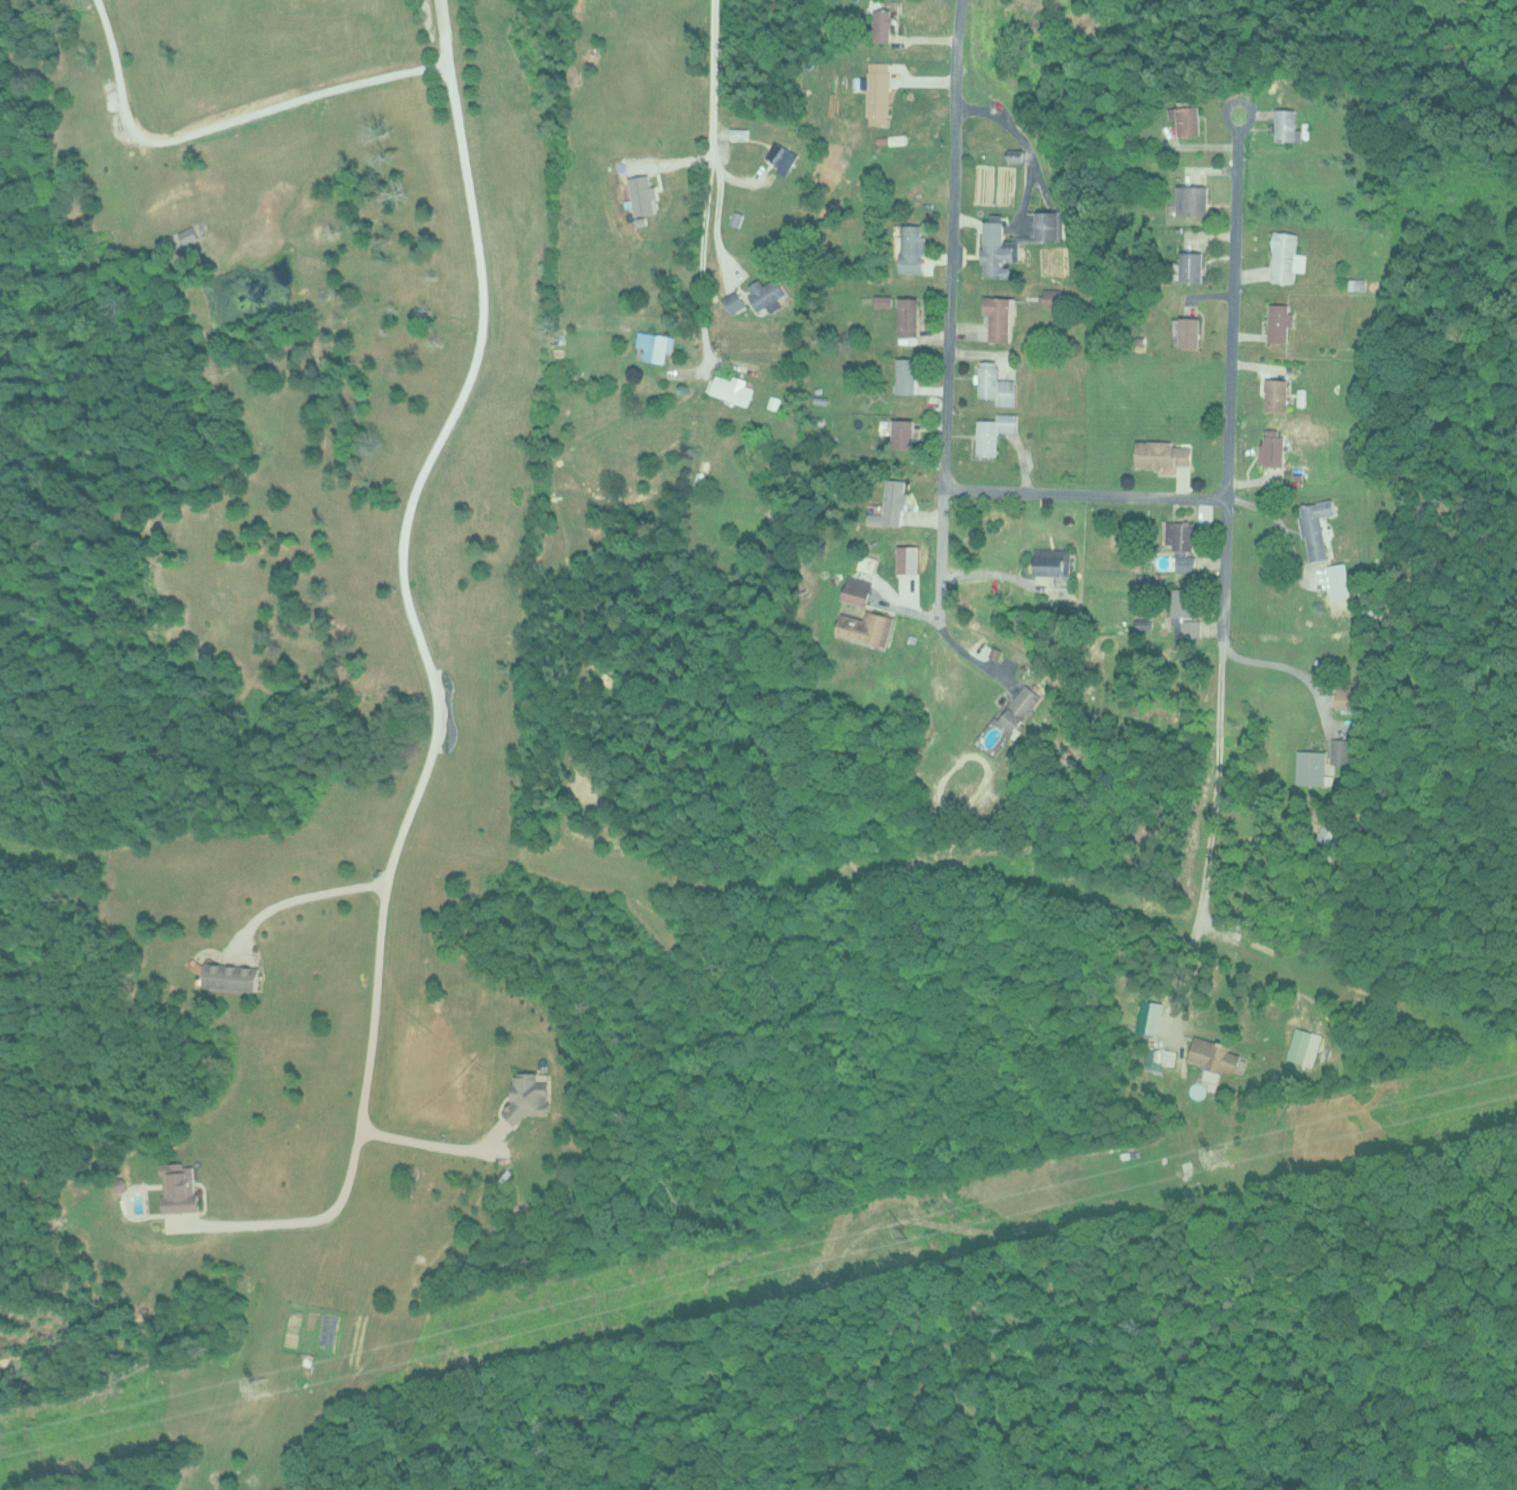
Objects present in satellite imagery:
building: (882, 24)
building: (878, 92)
building: (1186, 118)
building: (1286, 124)
building: (739, 133)
building: (782, 155)
road: (706, 180)
building: (1192, 199)
building: (1048, 225)
building: (911, 248)
building: (998, 248)
building: (1285, 257)
building: (1191, 266)
building: (767, 295)
building: (1052, 297)
building: (734, 302)
road: (948, 311)
building: (909, 317)
building: (1001, 317)
building: (1279, 323)
building: (1189, 331)
building: (655, 345)
building: (906, 375)
building: (995, 383)
building: (732, 388)
building: (1277, 394)
building: (995, 432)
building: (904, 433)
building: (1272, 451)
building: (1163, 454)
road: (1083, 493)
building: (893, 504)
building: (1315, 527)
building: (1183, 543)
building: (1052, 561)
building: (867, 563)
road: (1220, 572)
building: (857, 590)
road: (407, 595)
building: (1182, 603)
building: (867, 627)
building: (1345, 699)
building: (1008, 719)
building: (1340, 751)
building: (1310, 767)
building: (1323, 834)
road: (295, 899)
building: (232, 977)
building: (1305, 1046)
building: (1168, 1057)
building: (1215, 1057)
building: (530, 1094)
road: (429, 1146)
power tower: (1215, 1155)
building: (179, 1187)
road: (280, 1220)
power tower: (261, 1384)

